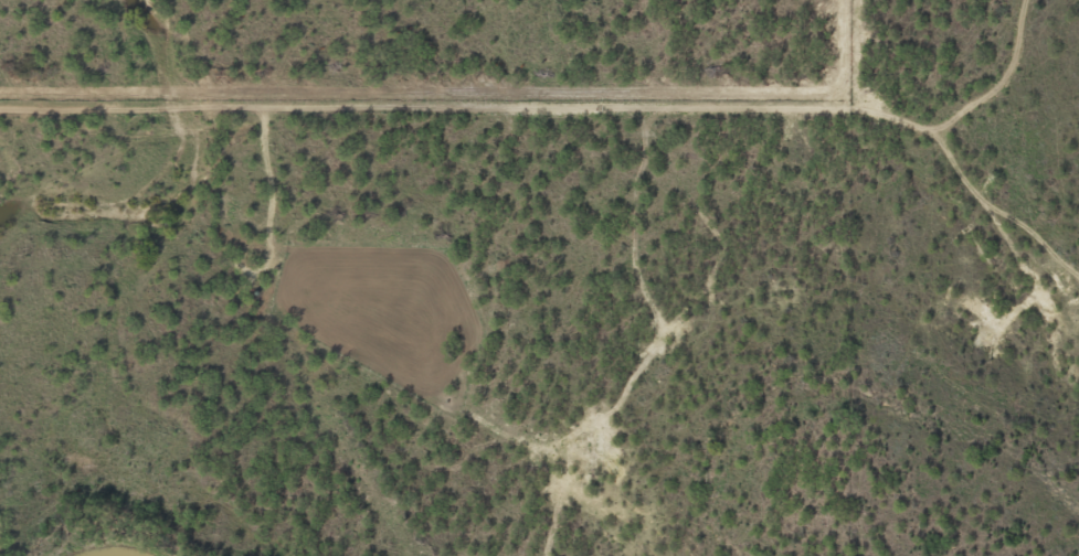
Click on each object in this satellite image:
road: (981, 79)
road: (602, 132)

